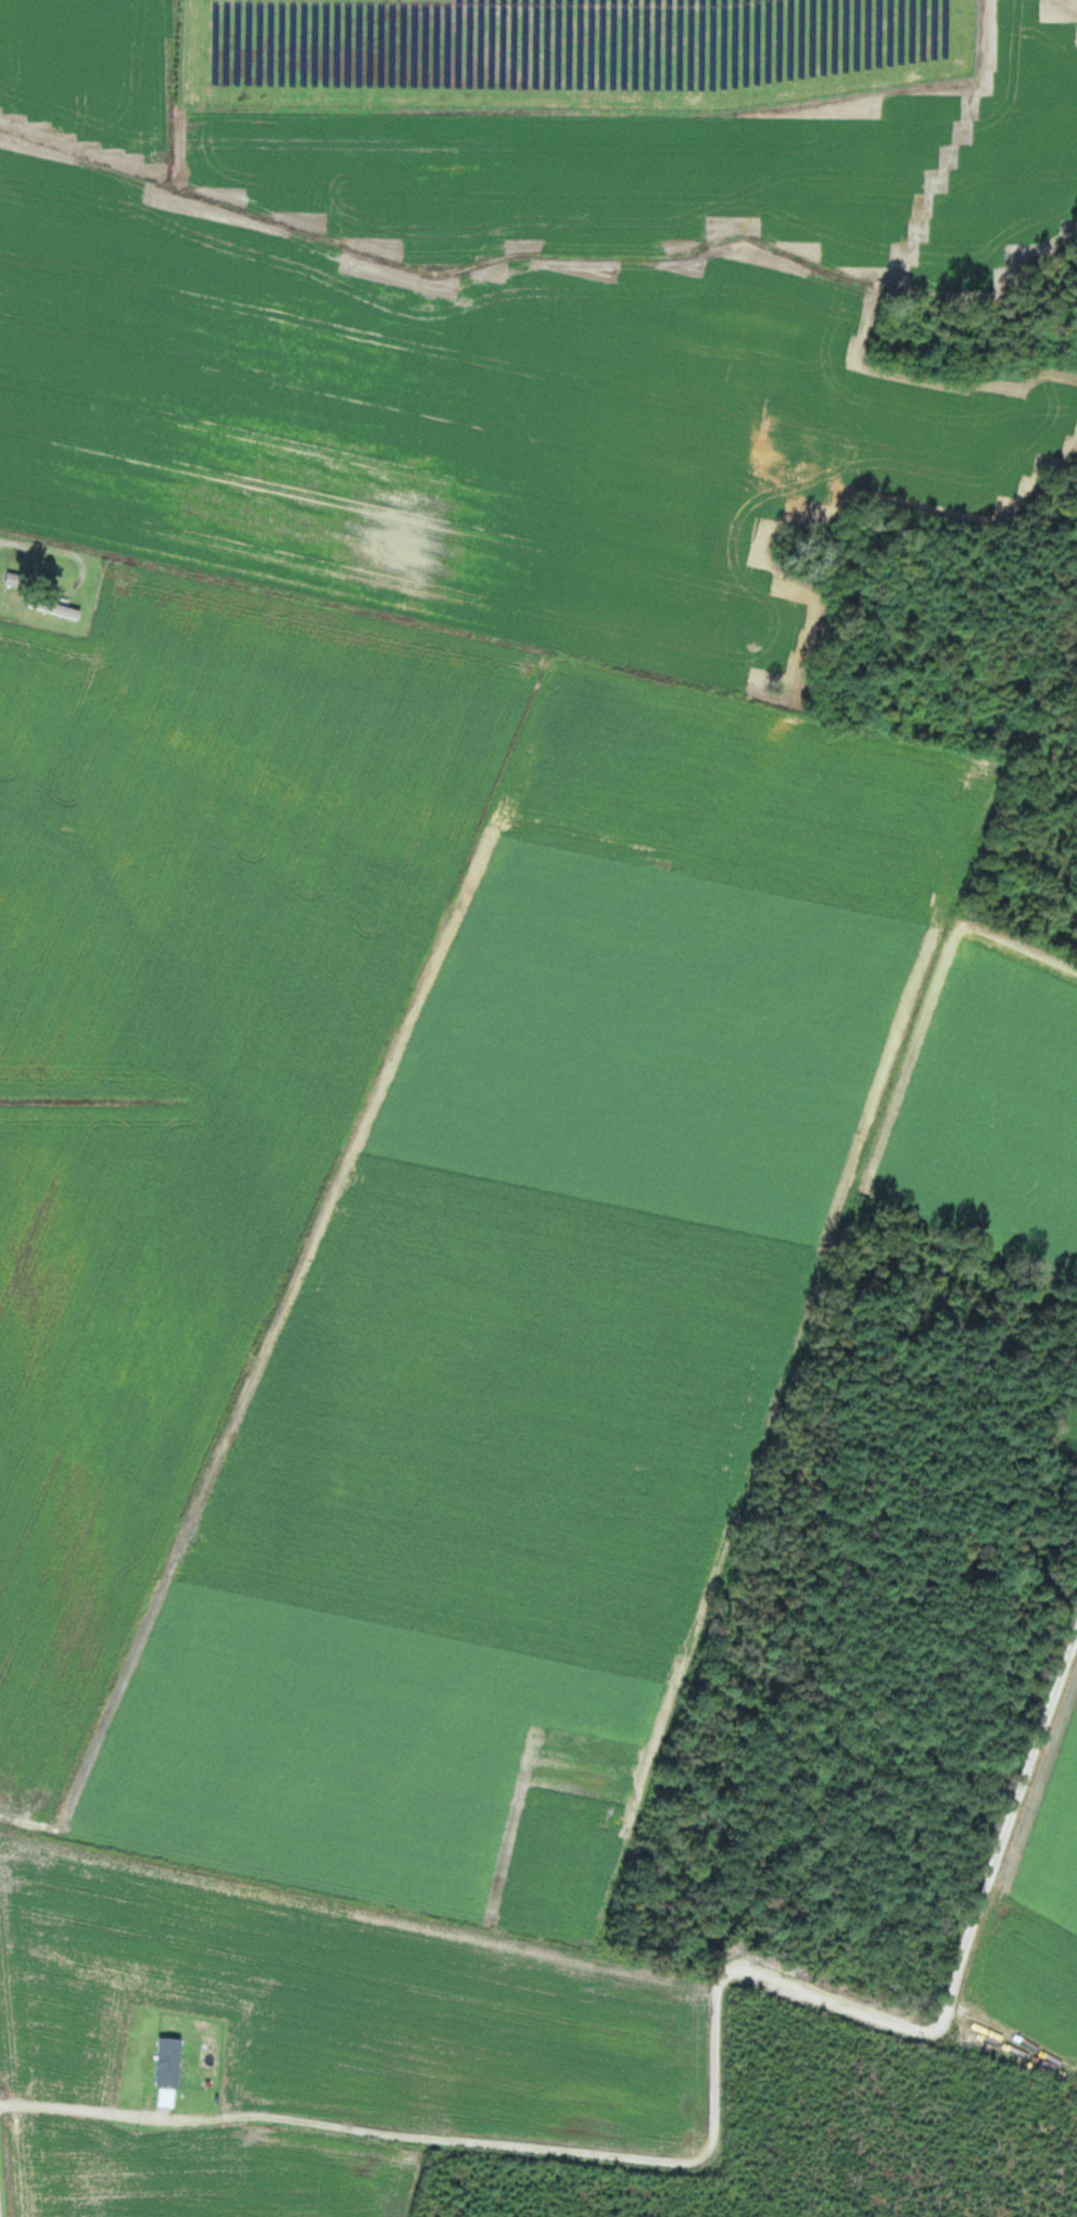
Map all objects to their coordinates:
road: (11, 541)
road: (81, 578)
building: (172, 2065)
road: (715, 2100)

